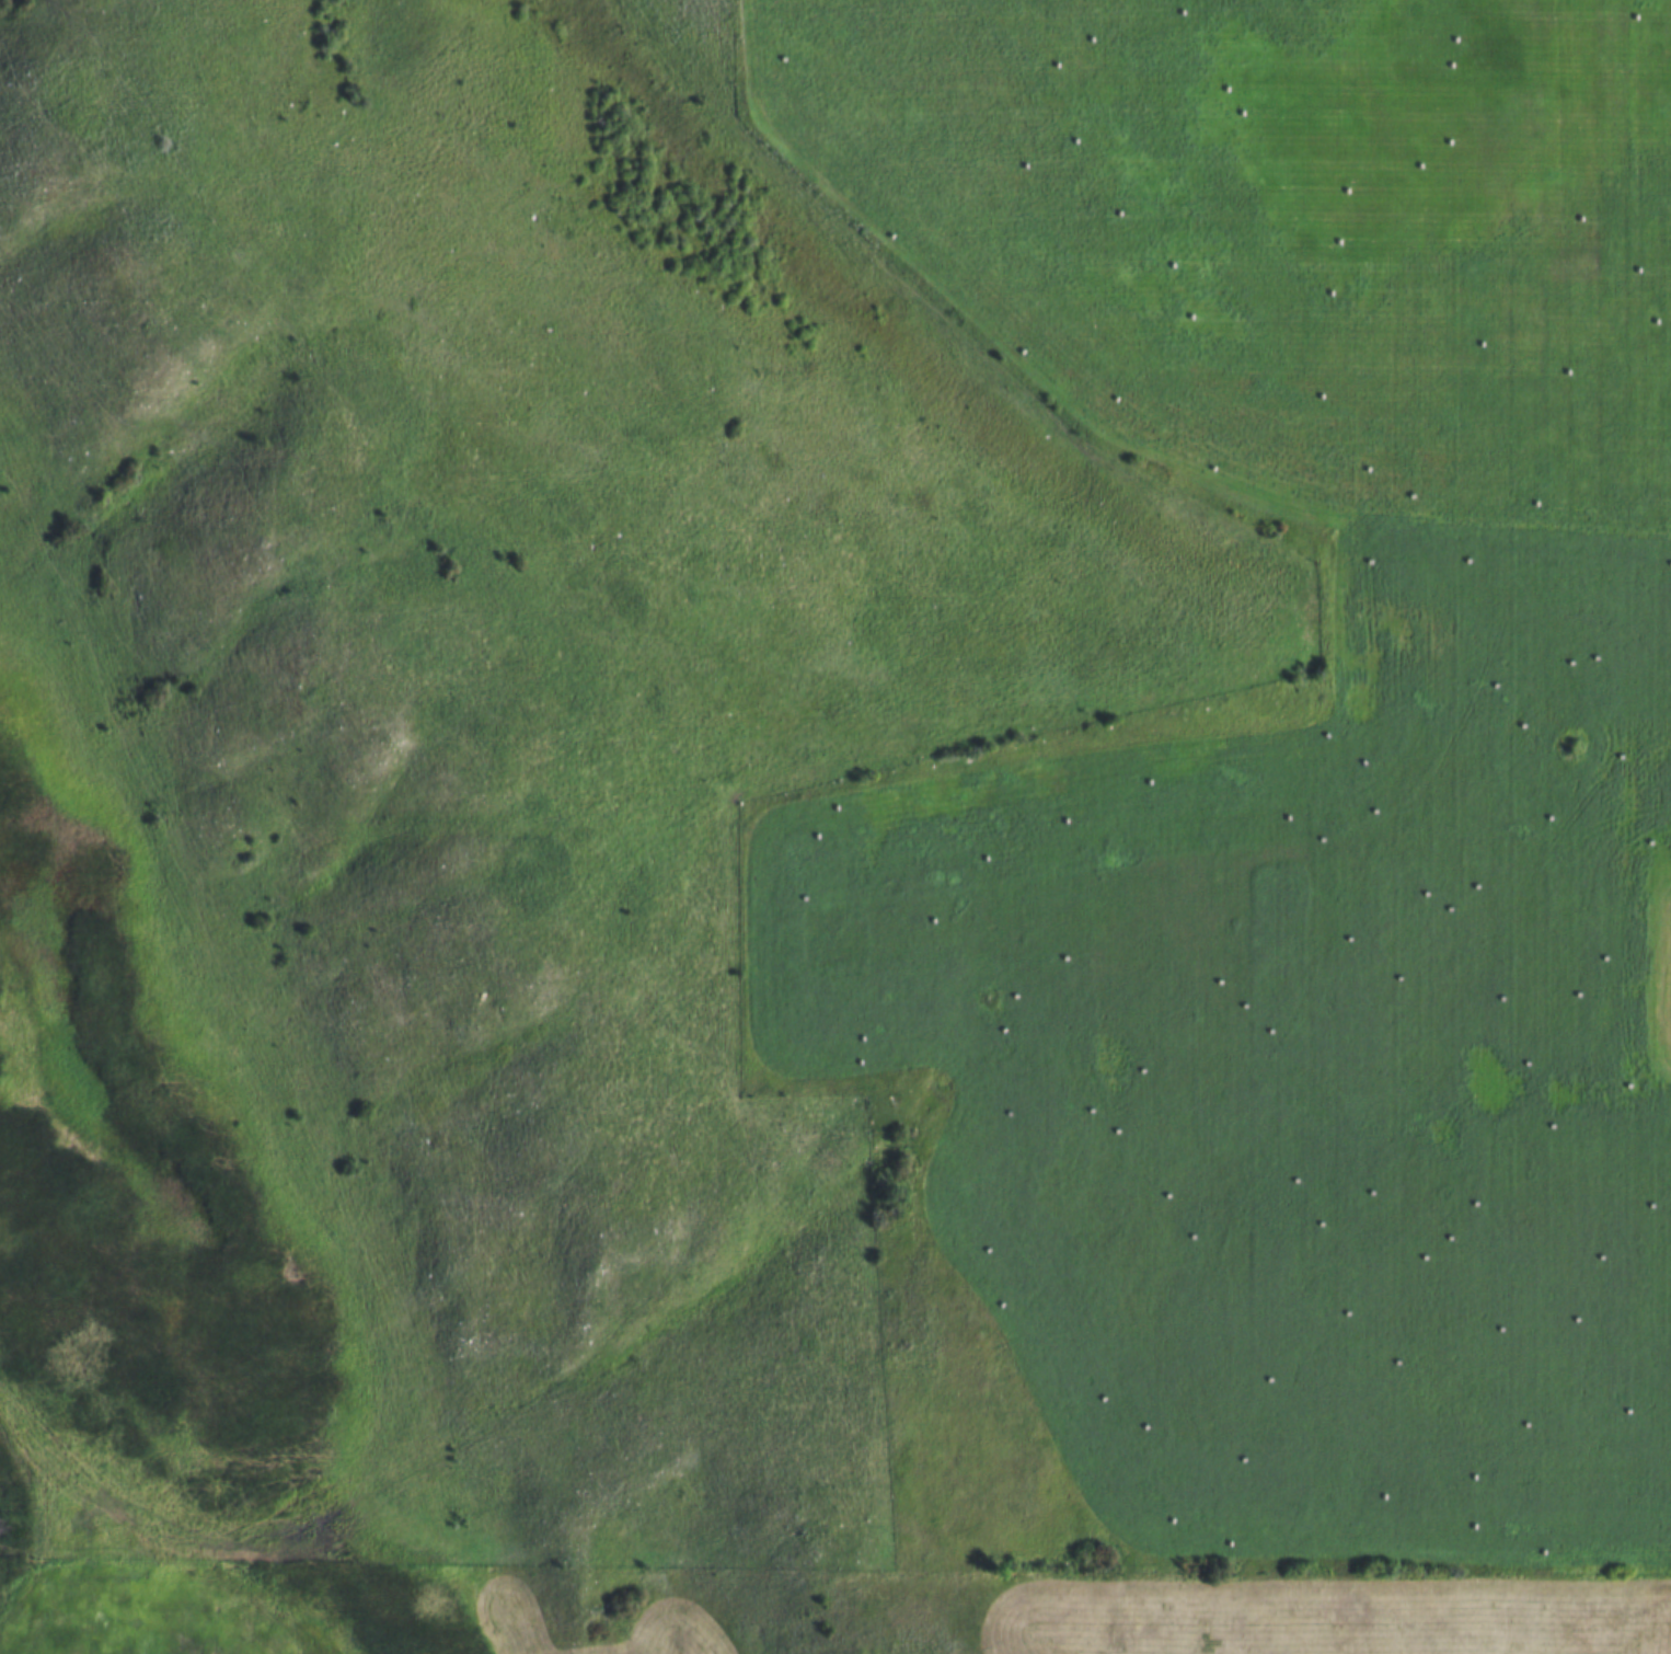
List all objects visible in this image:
road: (1111, 422)

